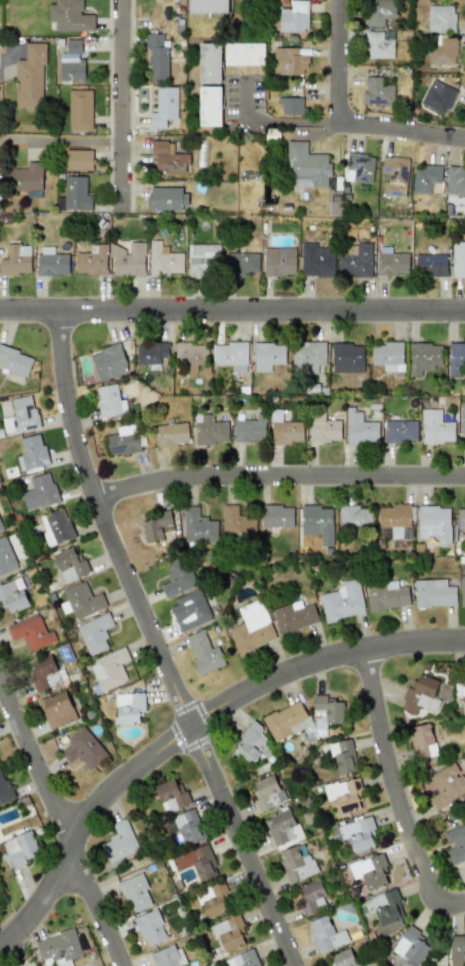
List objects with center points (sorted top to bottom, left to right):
building: (208, 6)
building: (379, 11)
building: (69, 16)
building: (294, 17)
building: (440, 18)
building: (378, 45)
building: (443, 49)
building: (244, 54)
building: (157, 56)
building: (289, 61)
building: (71, 62)
building: (209, 62)
road: (339, 64)
building: (30, 77)
road: (2, 79)
building: (377, 91)
building: (438, 96)
road: (122, 102)
building: (291, 105)
building: (163, 106)
building: (209, 106)
building: (80, 110)
road: (294, 124)
road: (402, 133)
road: (61, 143)
building: (168, 157)
building: (77, 159)
building: (307, 166)
building: (359, 168)
building: (395, 175)
building: (26, 177)
building: (427, 179)
building: (455, 180)
building: (74, 194)
building: (167, 198)
building: (458, 258)
building: (16, 259)
building: (127, 259)
building: (91, 260)
building: (164, 260)
building: (203, 260)
building: (316, 260)
building: (355, 260)
building: (278, 261)
building: (51, 262)
building: (391, 262)
building: (243, 263)
building: (430, 264)
road: (232, 313)
building: (151, 353)
building: (190, 354)
building: (231, 355)
building: (267, 355)
building: (308, 355)
building: (387, 355)
building: (347, 357)
building: (423, 357)
building: (455, 358)
building: (15, 360)
building: (108, 361)
building: (109, 401)
building: (21, 415)
building: (462, 419)
building: (322, 427)
building: (436, 427)
building: (359, 428)
building: (249, 429)
building: (209, 430)
building: (400, 431)
building: (286, 432)
building: (172, 434)
building: (123, 440)
building: (31, 452)
road: (277, 478)
building: (39, 492)
building: (275, 516)
building: (355, 517)
building: (461, 518)
building: (392, 520)
building: (235, 521)
building: (317, 522)
building: (434, 523)
building: (156, 526)
building: (198, 526)
building: (55, 527)
building: (0, 528)
building: (5, 556)
building: (70, 564)
building: (177, 578)
building: (462, 591)
building: (433, 593)
building: (13, 595)
building: (386, 595)
building: (82, 599)
building: (342, 601)
building: (192, 611)
building: (294, 616)
building: (251, 627)
building: (30, 632)
building: (94, 633)
road: (154, 645)
building: (203, 652)
building: (109, 669)
building: (44, 673)
building: (419, 695)
building: (129, 707)
building: (56, 709)
building: (326, 713)
building: (283, 720)
building: (299, 726)
road: (189, 728)
building: (421, 741)
building: (252, 745)
building: (83, 748)
building: (342, 757)
building: (446, 784)
building: (4, 789)
road: (394, 792)
building: (267, 793)
building: (171, 794)
building: (344, 794)
road: (60, 824)
building: (189, 826)
building: (282, 828)
building: (357, 833)
building: (120, 841)
building: (455, 843)
building: (18, 848)
building: (196, 862)
building: (295, 863)
building: (370, 871)
building: (135, 893)
building: (312, 896)
building: (213, 901)
building: (386, 911)
building: (150, 928)
building: (228, 932)
building: (325, 934)
building: (411, 945)
building: (58, 948)
building: (456, 951)
building: (167, 956)
building: (344, 958)
building: (242, 959)

